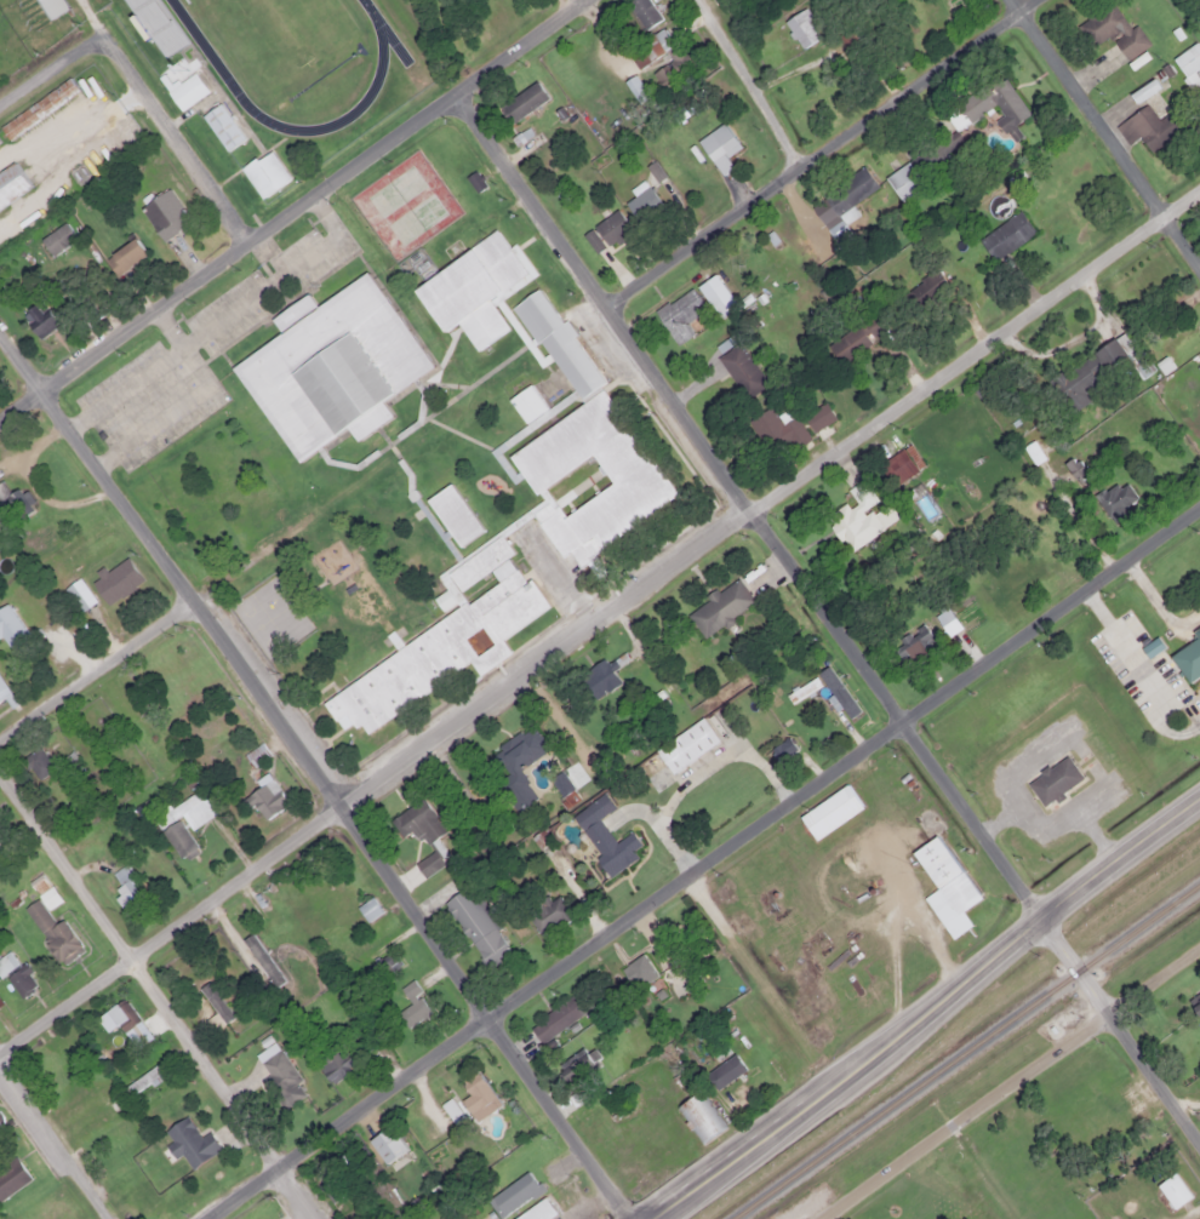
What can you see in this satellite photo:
building: (48, 7)
building: (642, 11)
building: (155, 25)
building: (801, 27)
building: (1110, 29)
building: (655, 44)
building: (1188, 63)
building: (672, 69)
road: (139, 82)
road: (750, 84)
building: (185, 90)
building: (522, 101)
building: (994, 102)
building: (39, 107)
building: (221, 126)
building: (1147, 127)
road: (1107, 131)
building: (718, 145)
building: (543, 147)
road: (821, 154)
building: (912, 171)
building: (264, 172)
building: (10, 182)
building: (840, 200)
road: (292, 210)
building: (162, 212)
building: (605, 230)
building: (1005, 234)
building: (124, 254)
building: (474, 288)
building: (924, 288)
building: (678, 314)
building: (40, 319)
building: (852, 338)
building: (331, 365)
building: (741, 368)
building: (1090, 371)
building: (817, 416)
building: (607, 429)
building: (775, 430)
building: (897, 465)
building: (1114, 498)
building: (453, 514)
building: (855, 521)
building: (116, 585)
building: (76, 593)
building: (719, 606)
road: (830, 613)
road: (599, 618)
building: (8, 626)
road: (155, 630)
building: (447, 635)
building: (912, 642)
building: (1189, 656)
building: (599, 677)
building: (2, 691)
building: (688, 749)
building: (781, 749)
building: (255, 754)
building: (513, 760)
building: (36, 763)
road: (319, 763)
building: (1053, 779)
building: (555, 786)
building: (265, 799)
building: (185, 811)
building: (829, 811)
building: (417, 820)
building: (606, 837)
road: (704, 863)
building: (945, 874)
building: (126, 883)
building: (42, 891)
building: (367, 909)
building: (547, 915)
building: (476, 927)
building: (51, 932)
building: (262, 960)
building: (6, 962)
building: (384, 963)
building: (184, 968)
building: (638, 971)
building: (22, 980)
road: (160, 990)
building: (1195, 1002)
building: (411, 1005)
road: (921, 1007)
building: (125, 1014)
building: (559, 1017)
railway: (964, 1051)
building: (333, 1061)
building: (577, 1064)
building: (724, 1070)
building: (280, 1077)
road: (1006, 1083)
building: (474, 1091)
building: (448, 1108)
building: (699, 1116)
building: (0, 1118)
building: (1099, 1118)
road: (55, 1134)
building: (188, 1143)
building: (387, 1144)
building: (11, 1177)
building: (333, 1179)
building: (1172, 1190)
building: (512, 1194)
building: (448, 1215)
building: (525, 1215)

